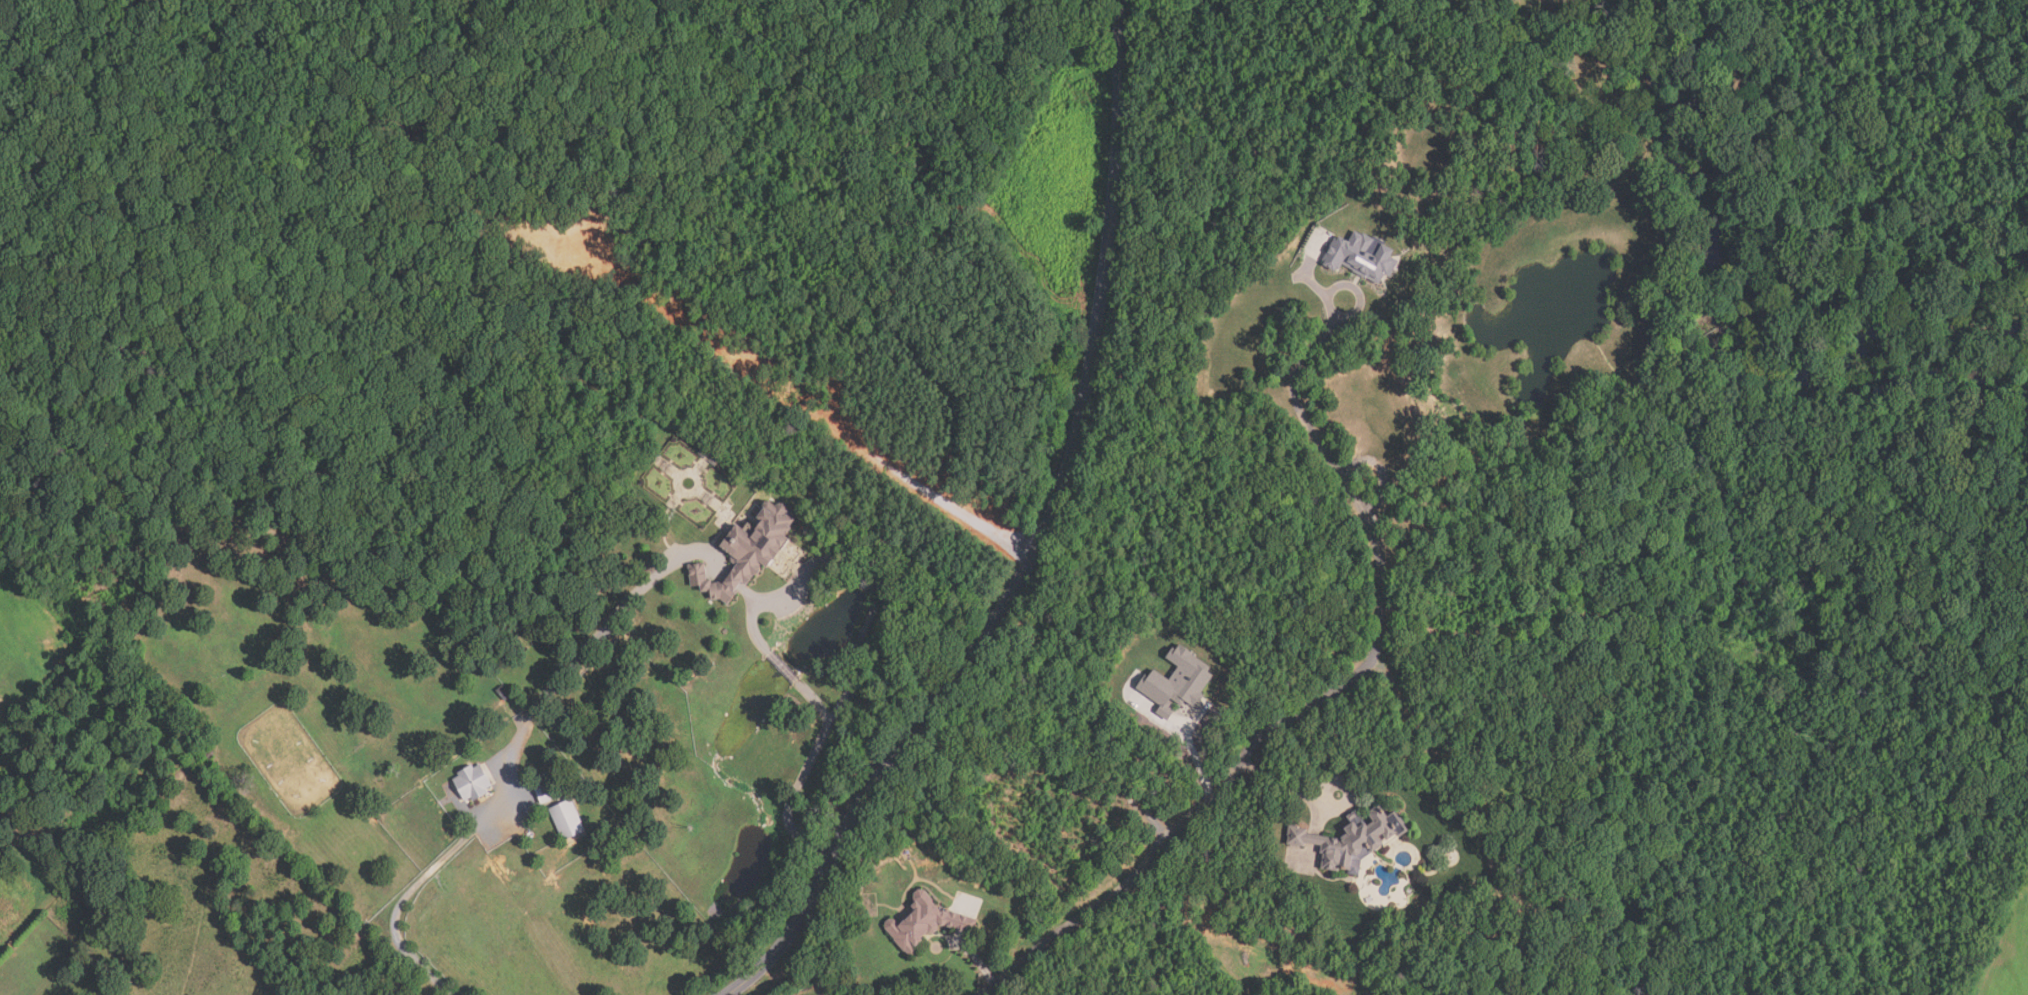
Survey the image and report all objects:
river: (1695, 249)
building: (1364, 255)
road: (1363, 291)
river: (1947, 316)
river: (1947, 371)
road: (1038, 542)
building: (750, 551)
road: (752, 626)
road: (784, 668)
building: (1179, 681)
building: (504, 693)
road: (1308, 705)
road: (510, 769)
road: (804, 774)
building: (475, 782)
road: (1288, 787)
building: (544, 788)
building: (569, 820)
building: (1353, 840)
building: (927, 921)

